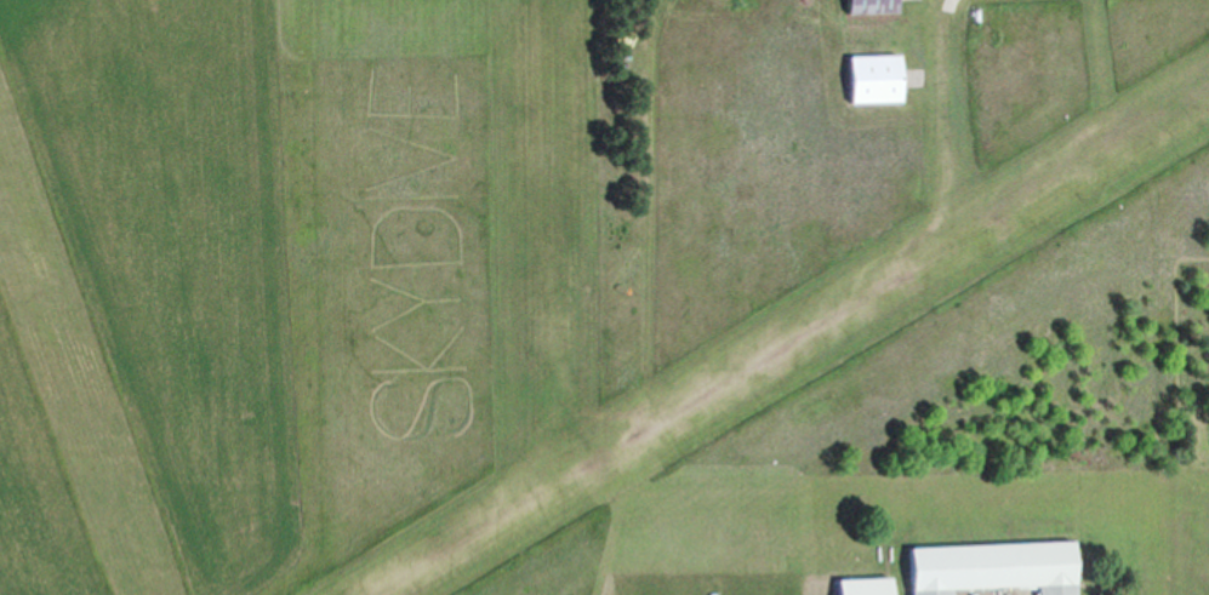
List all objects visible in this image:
building: (869, 6)
building: (873, 79)
airport: (593, 294)
airport runway: (798, 344)
building: (992, 568)
building: (862, 587)

